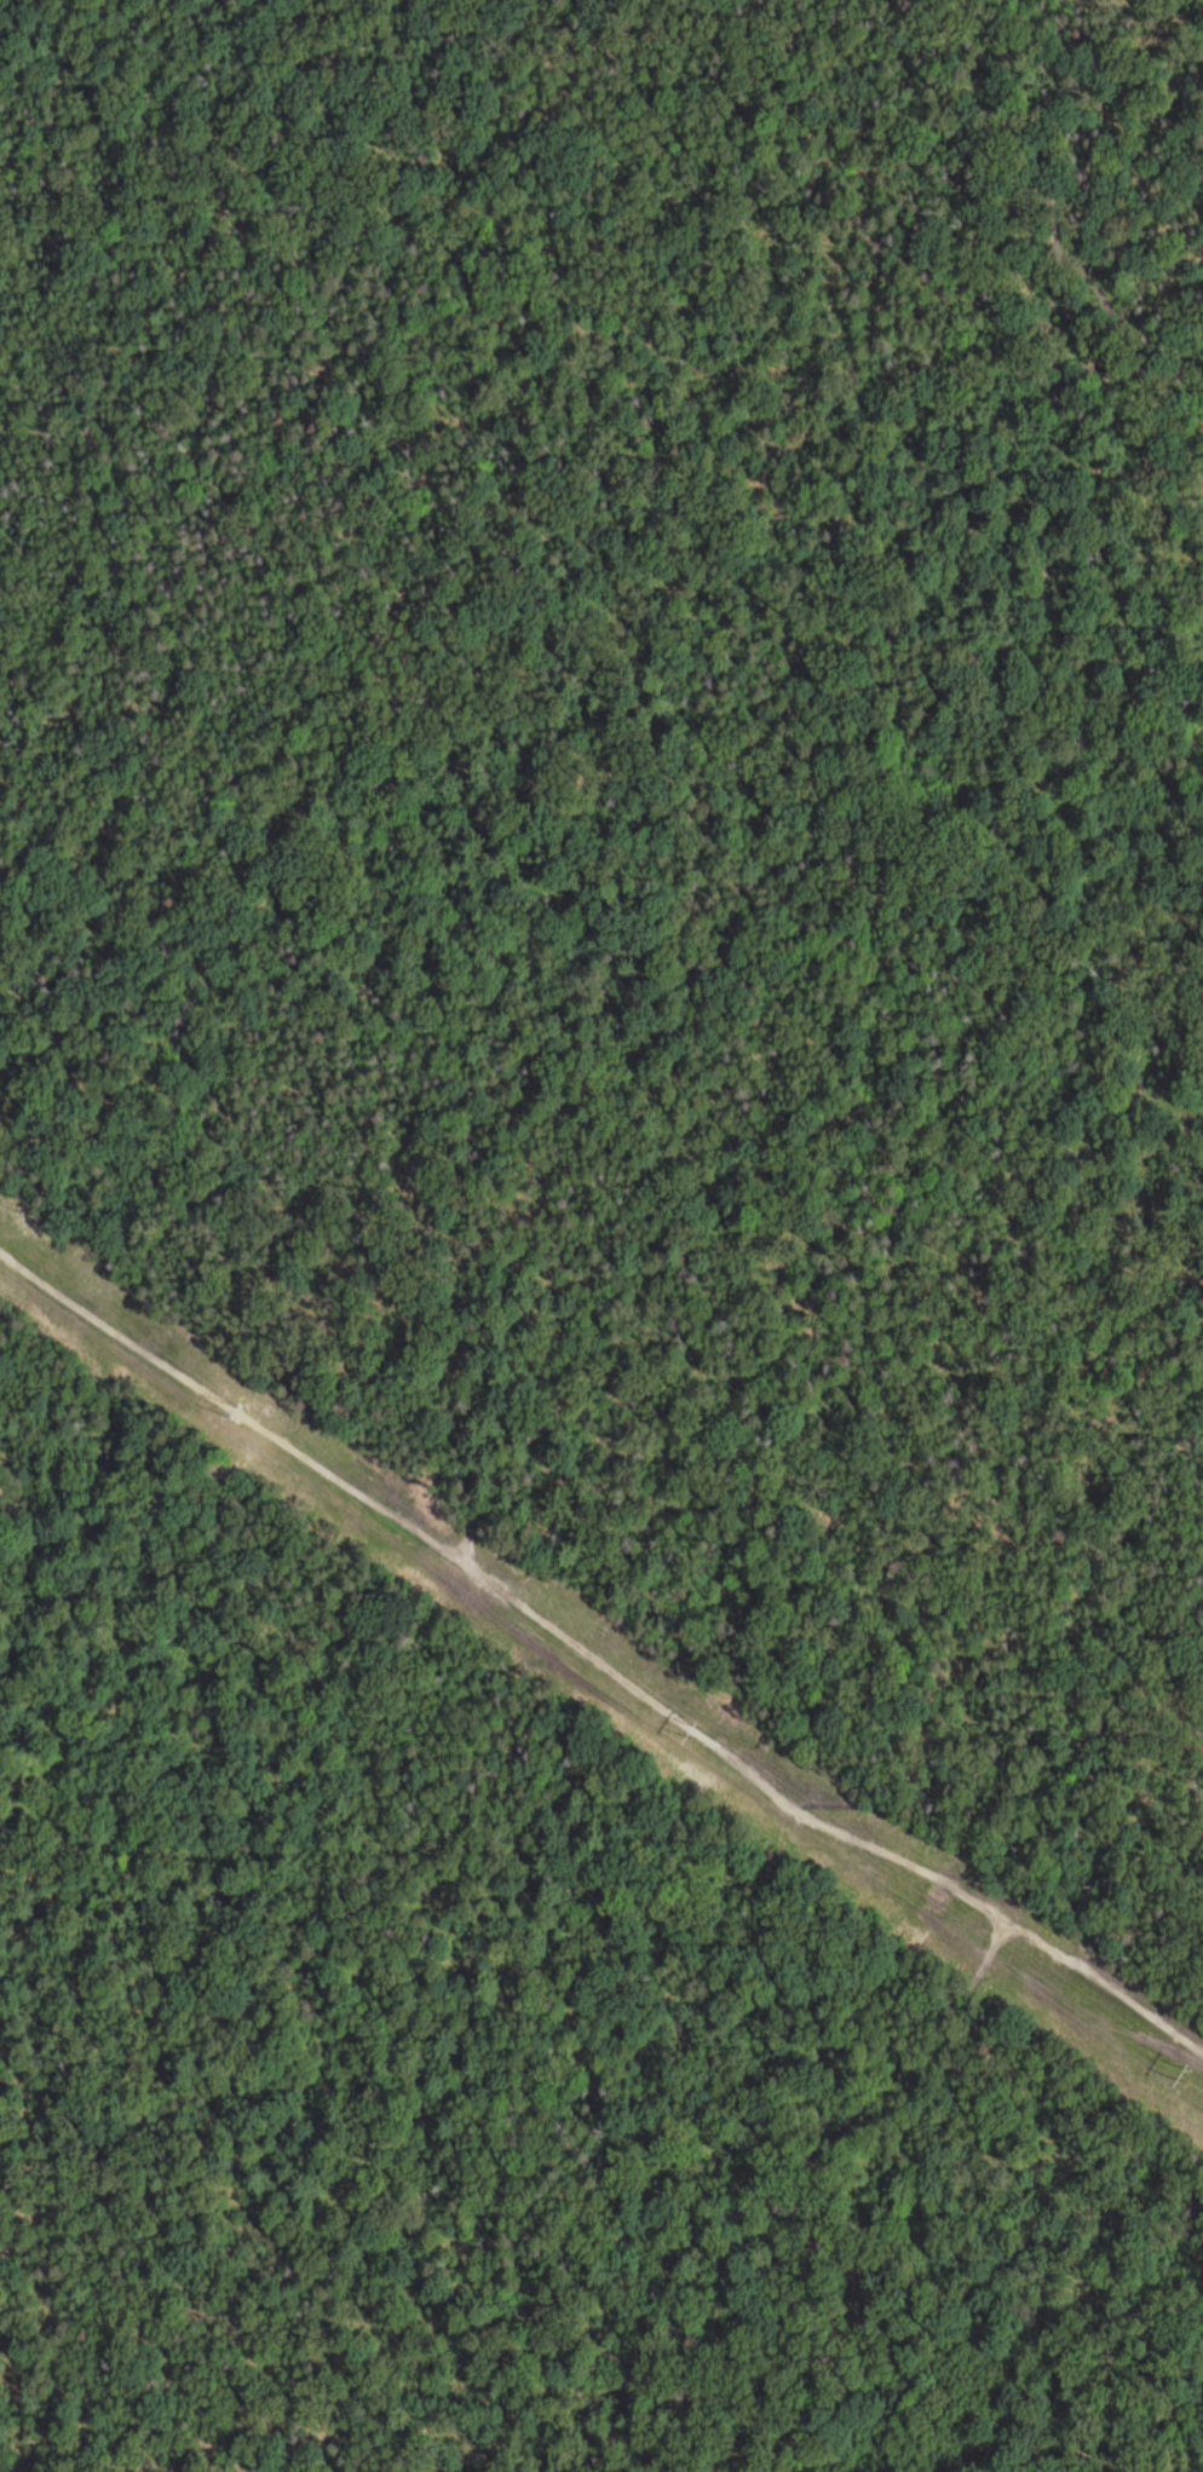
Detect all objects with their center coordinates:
power tower: (240, 1406)
power tower: (696, 1724)
power tower: (1187, 2069)

